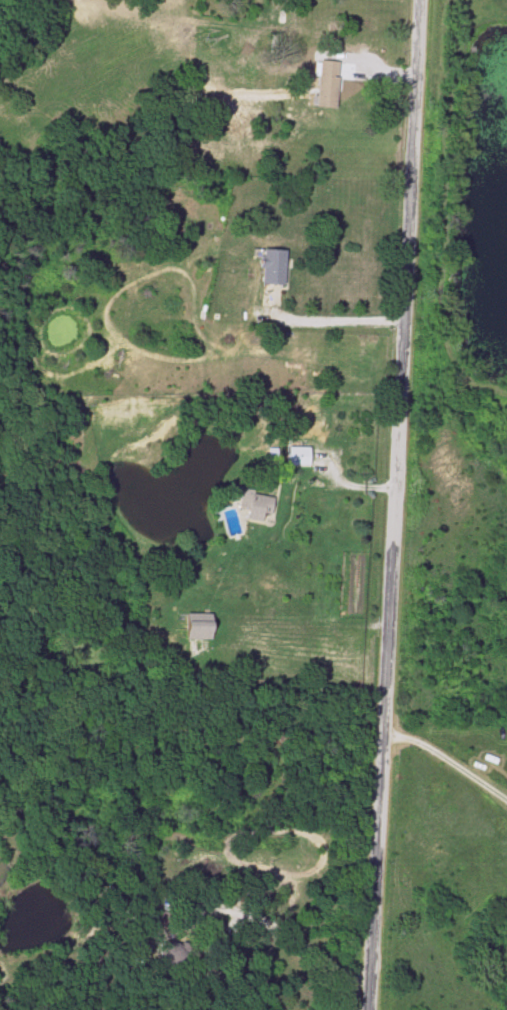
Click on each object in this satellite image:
building: (323, 83)
building: (268, 266)
road: (343, 320)
building: (294, 456)
building: (257, 504)
road: (394, 504)
road: (307, 619)
building: (193, 630)
road: (449, 763)
building: (157, 919)
road: (289, 933)

